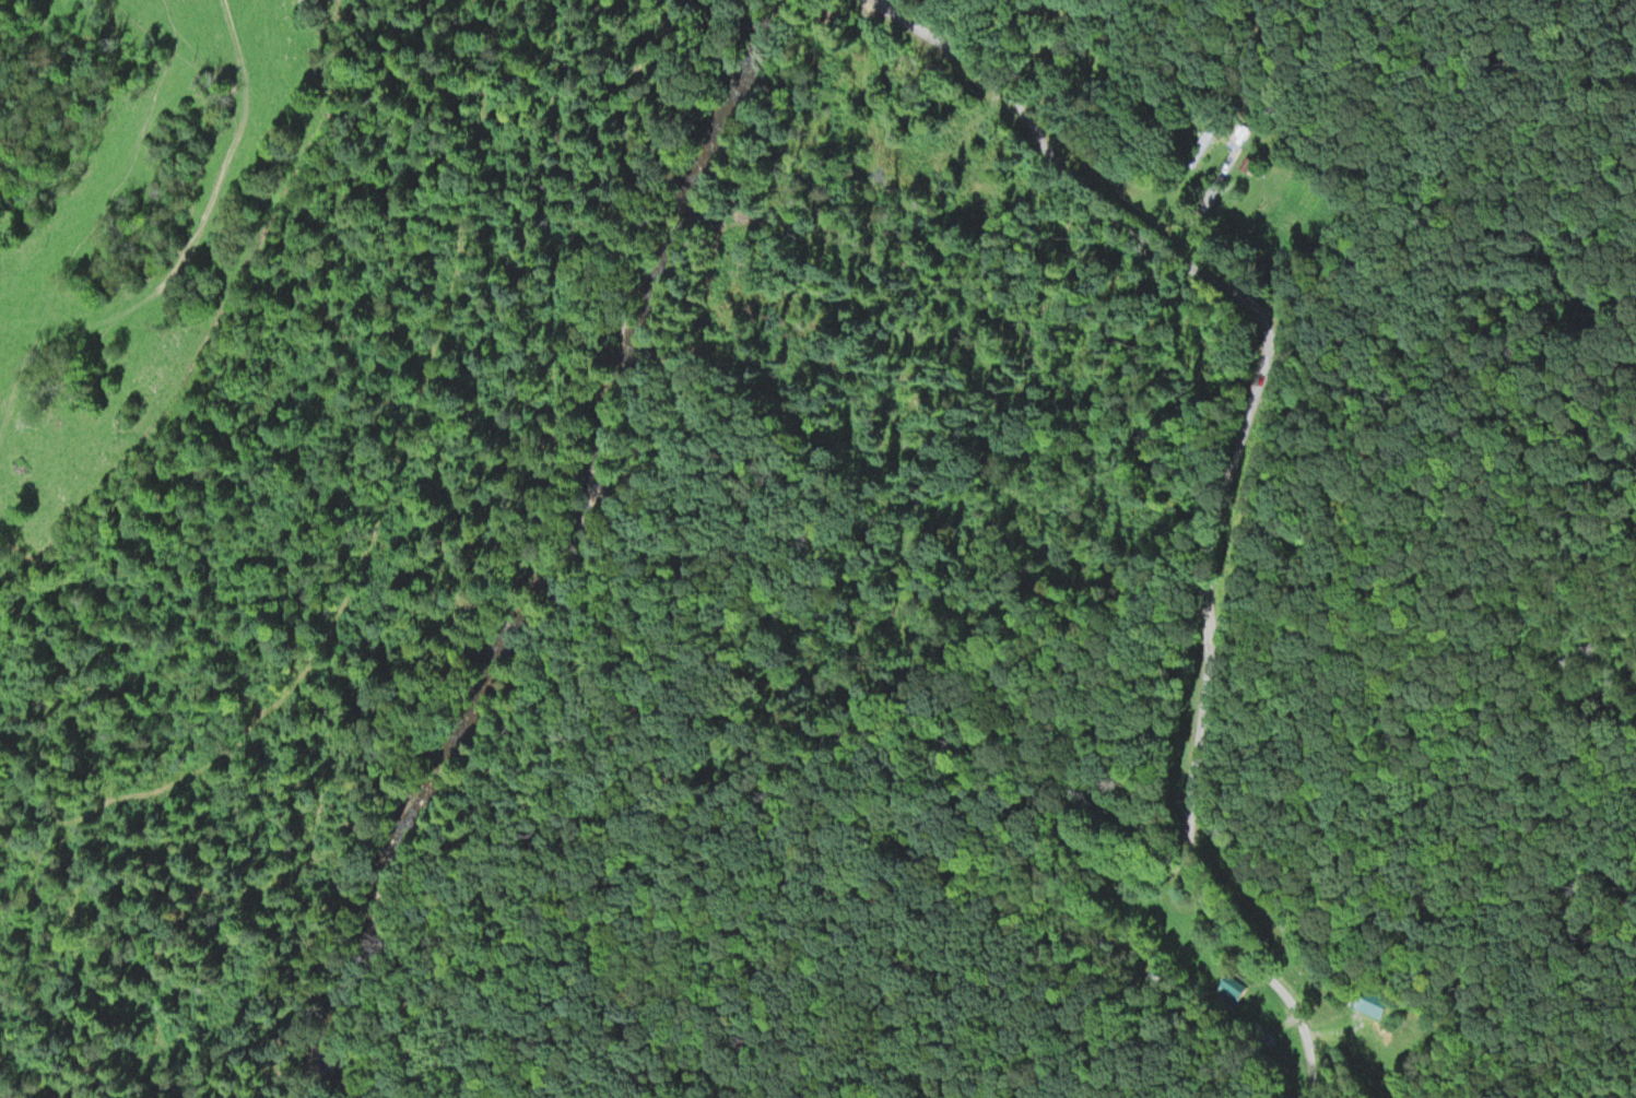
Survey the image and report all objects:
road: (1229, 463)
river: (563, 557)

